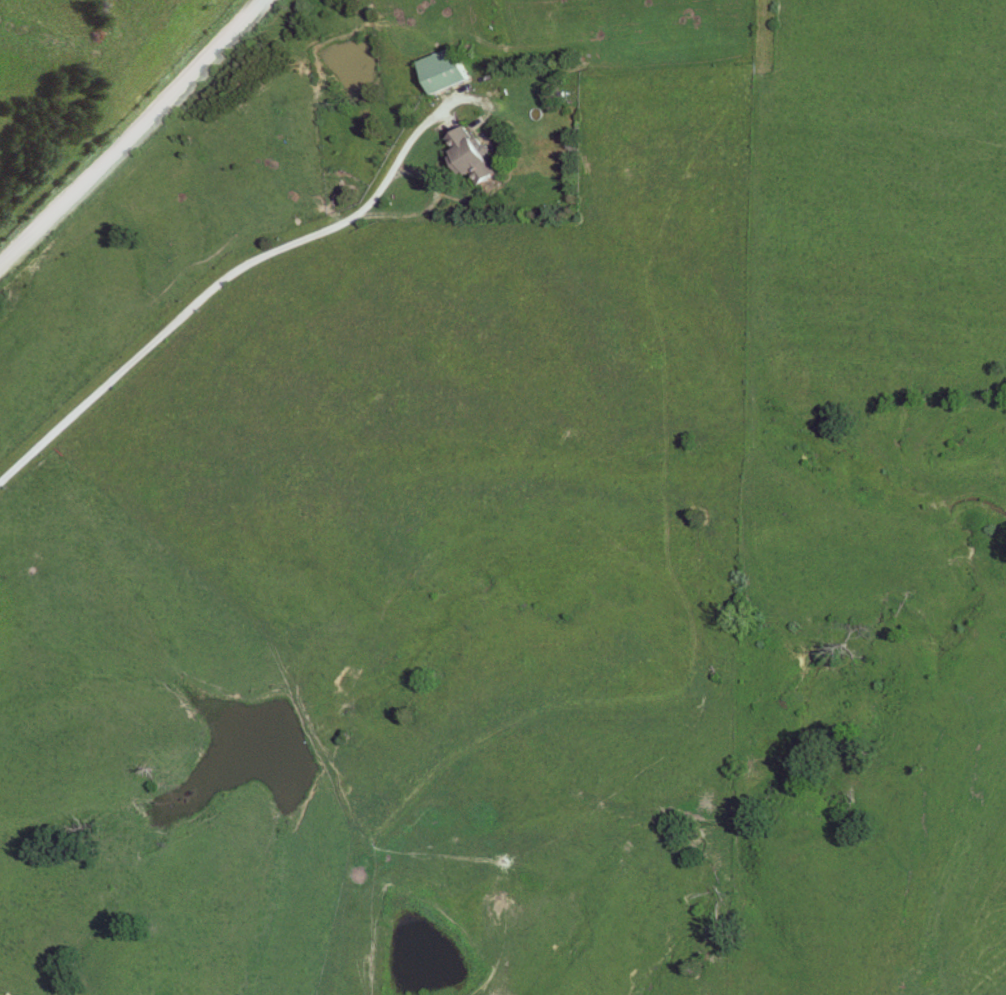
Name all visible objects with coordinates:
building: (439, 71)
road: (127, 133)
building: (467, 158)
road: (221, 284)

